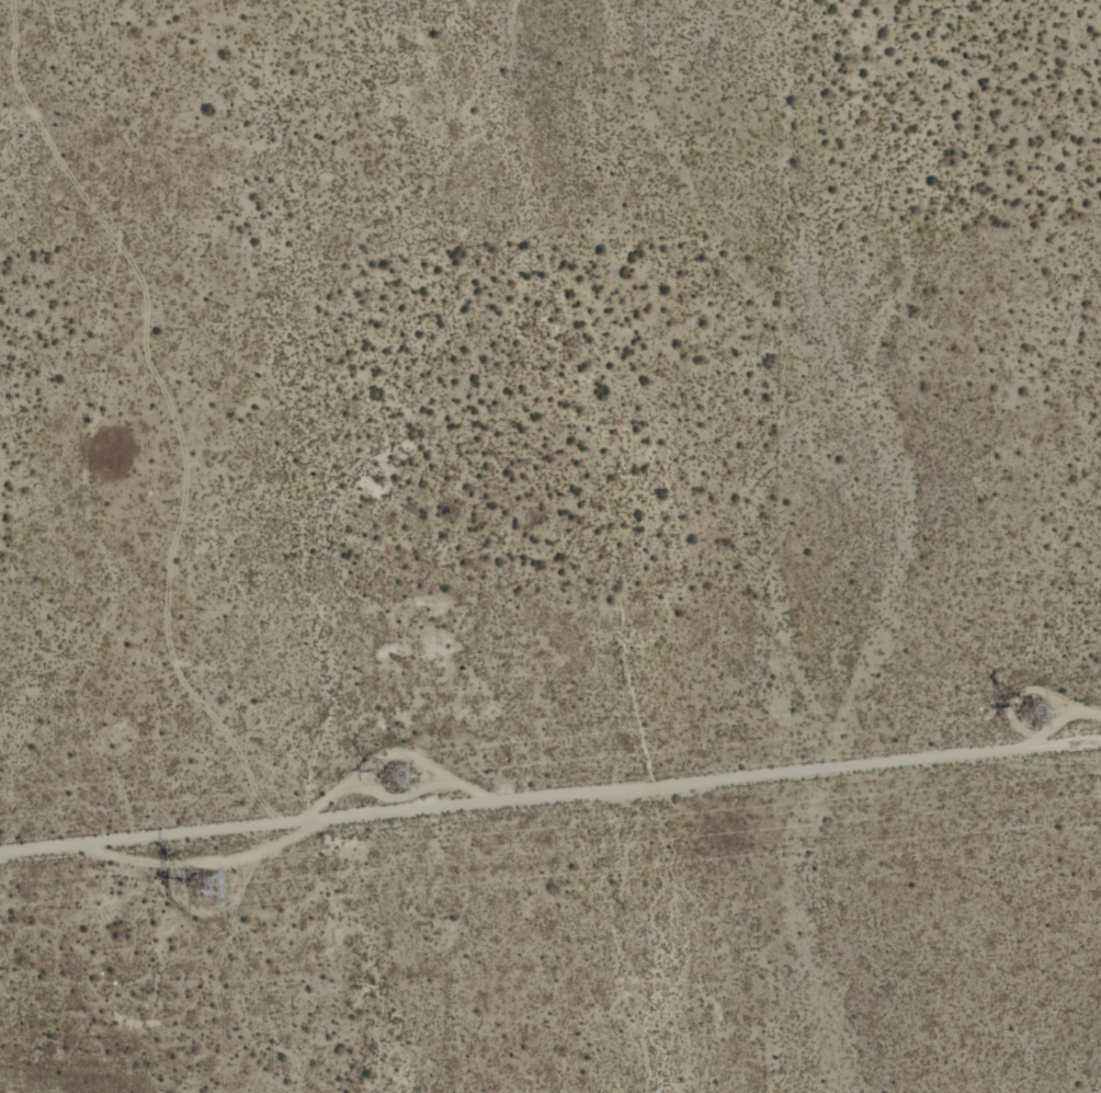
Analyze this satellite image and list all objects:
power tower: (1085, 716)
power tower: (409, 785)
road: (550, 792)
power tower: (209, 901)

